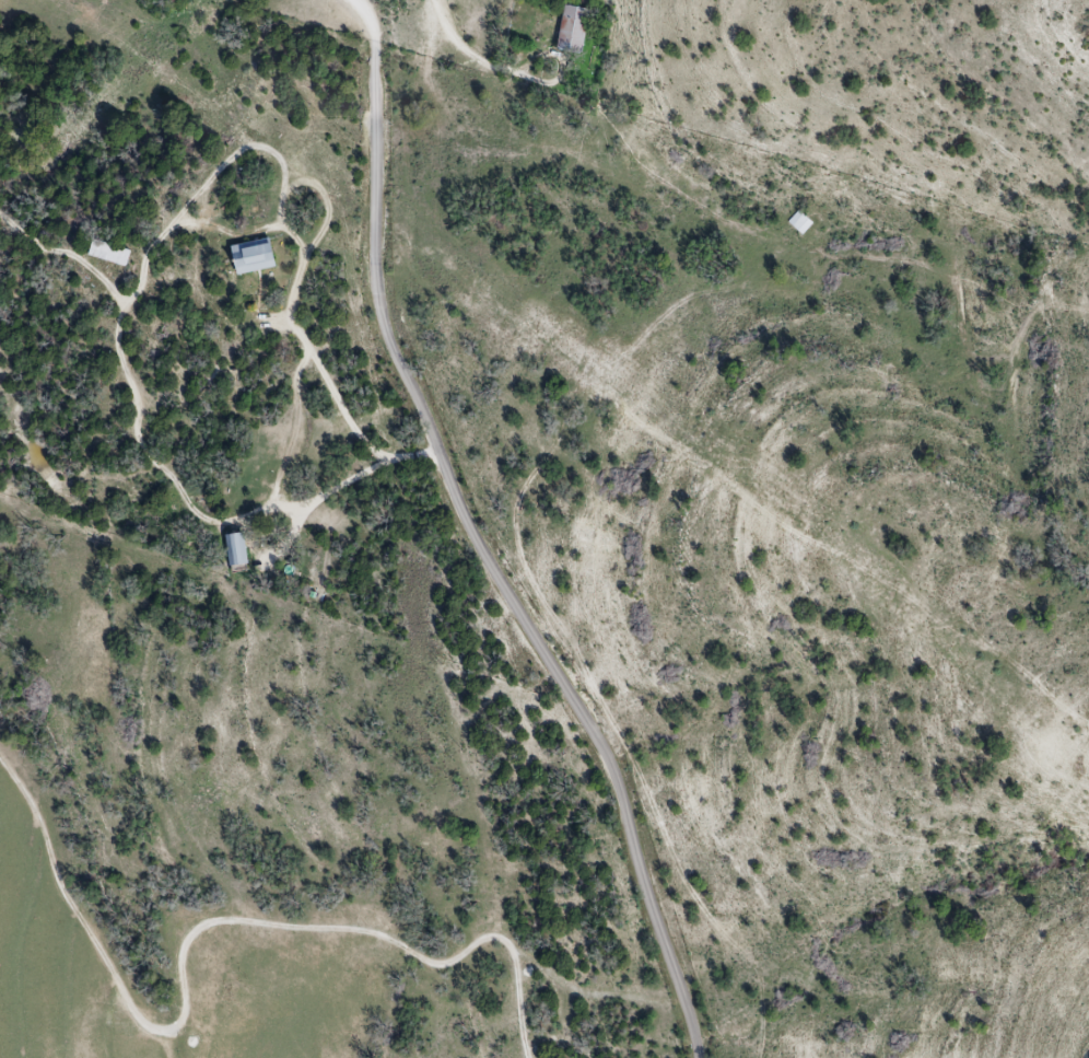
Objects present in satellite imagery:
road: (356, 1)
road: (366, 18)
building: (572, 28)
road: (461, 39)
building: (108, 251)
building: (251, 255)
road: (144, 263)
building: (235, 549)
road: (489, 560)
road: (199, 933)

